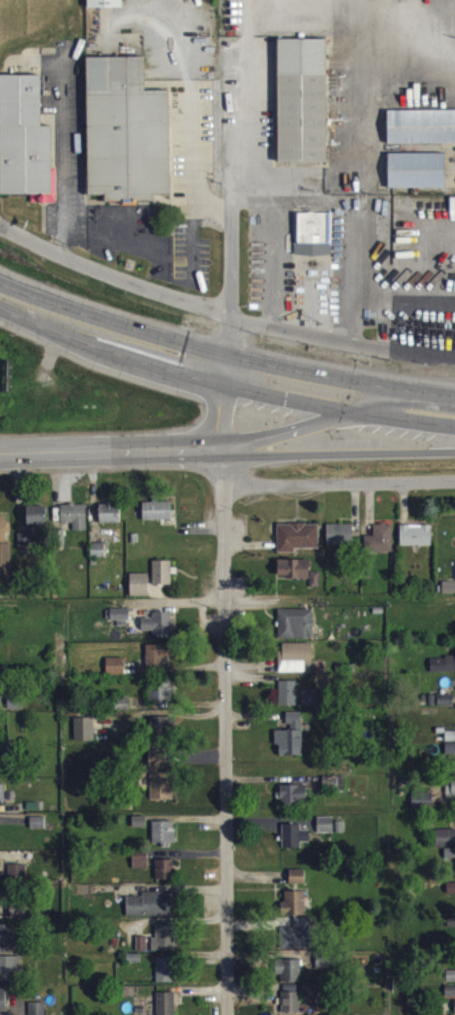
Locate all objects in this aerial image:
building: (106, 7)
road: (353, 38)
building: (303, 108)
building: (422, 134)
building: (128, 140)
building: (26, 148)
road: (191, 157)
road: (355, 159)
building: (418, 178)
road: (250, 186)
building: (314, 241)
road: (269, 246)
road: (172, 297)
road: (405, 347)
road: (223, 353)
road: (222, 385)
road: (219, 399)
road: (405, 405)
traffic signals: (356, 412)
road: (294, 427)
road: (345, 447)
road: (118, 450)
road: (336, 484)
building: (157, 518)
building: (110, 520)
building: (37, 523)
building: (75, 523)
building: (4, 536)
building: (340, 542)
building: (416, 543)
building: (298, 544)
building: (25, 547)
building: (99, 558)
building: (6, 573)
building: (298, 578)
building: (163, 580)
building: (140, 592)
building: (449, 595)
building: (121, 624)
building: (159, 631)
building: (296, 631)
building: (159, 662)
building: (297, 664)
building: (443, 672)
building: (116, 674)
building: (162, 698)
building: (288, 701)
building: (310, 705)
building: (446, 708)
road: (222, 730)
building: (162, 735)
building: (84, 737)
building: (291, 744)
building: (161, 782)
building: (452, 796)
building: (2, 800)
building: (294, 803)
building: (423, 808)
building: (38, 830)
building: (326, 832)
building: (164, 840)
building: (295, 844)
building: (446, 845)
building: (451, 860)
building: (141, 867)
building: (0, 873)
building: (165, 877)
building: (17, 878)
building: (298, 884)
building: (451, 896)
building: (0, 906)
building: (294, 911)
building: (152, 912)
building: (18, 918)
building: (7, 940)
building: (299, 942)
building: (165, 946)
building: (326, 969)
building: (10, 970)
building: (166, 977)
building: (289, 978)
building: (451, 983)
building: (450, 998)
building: (3, 1006)
building: (166, 1007)
building: (291, 1007)
building: (37, 1012)

